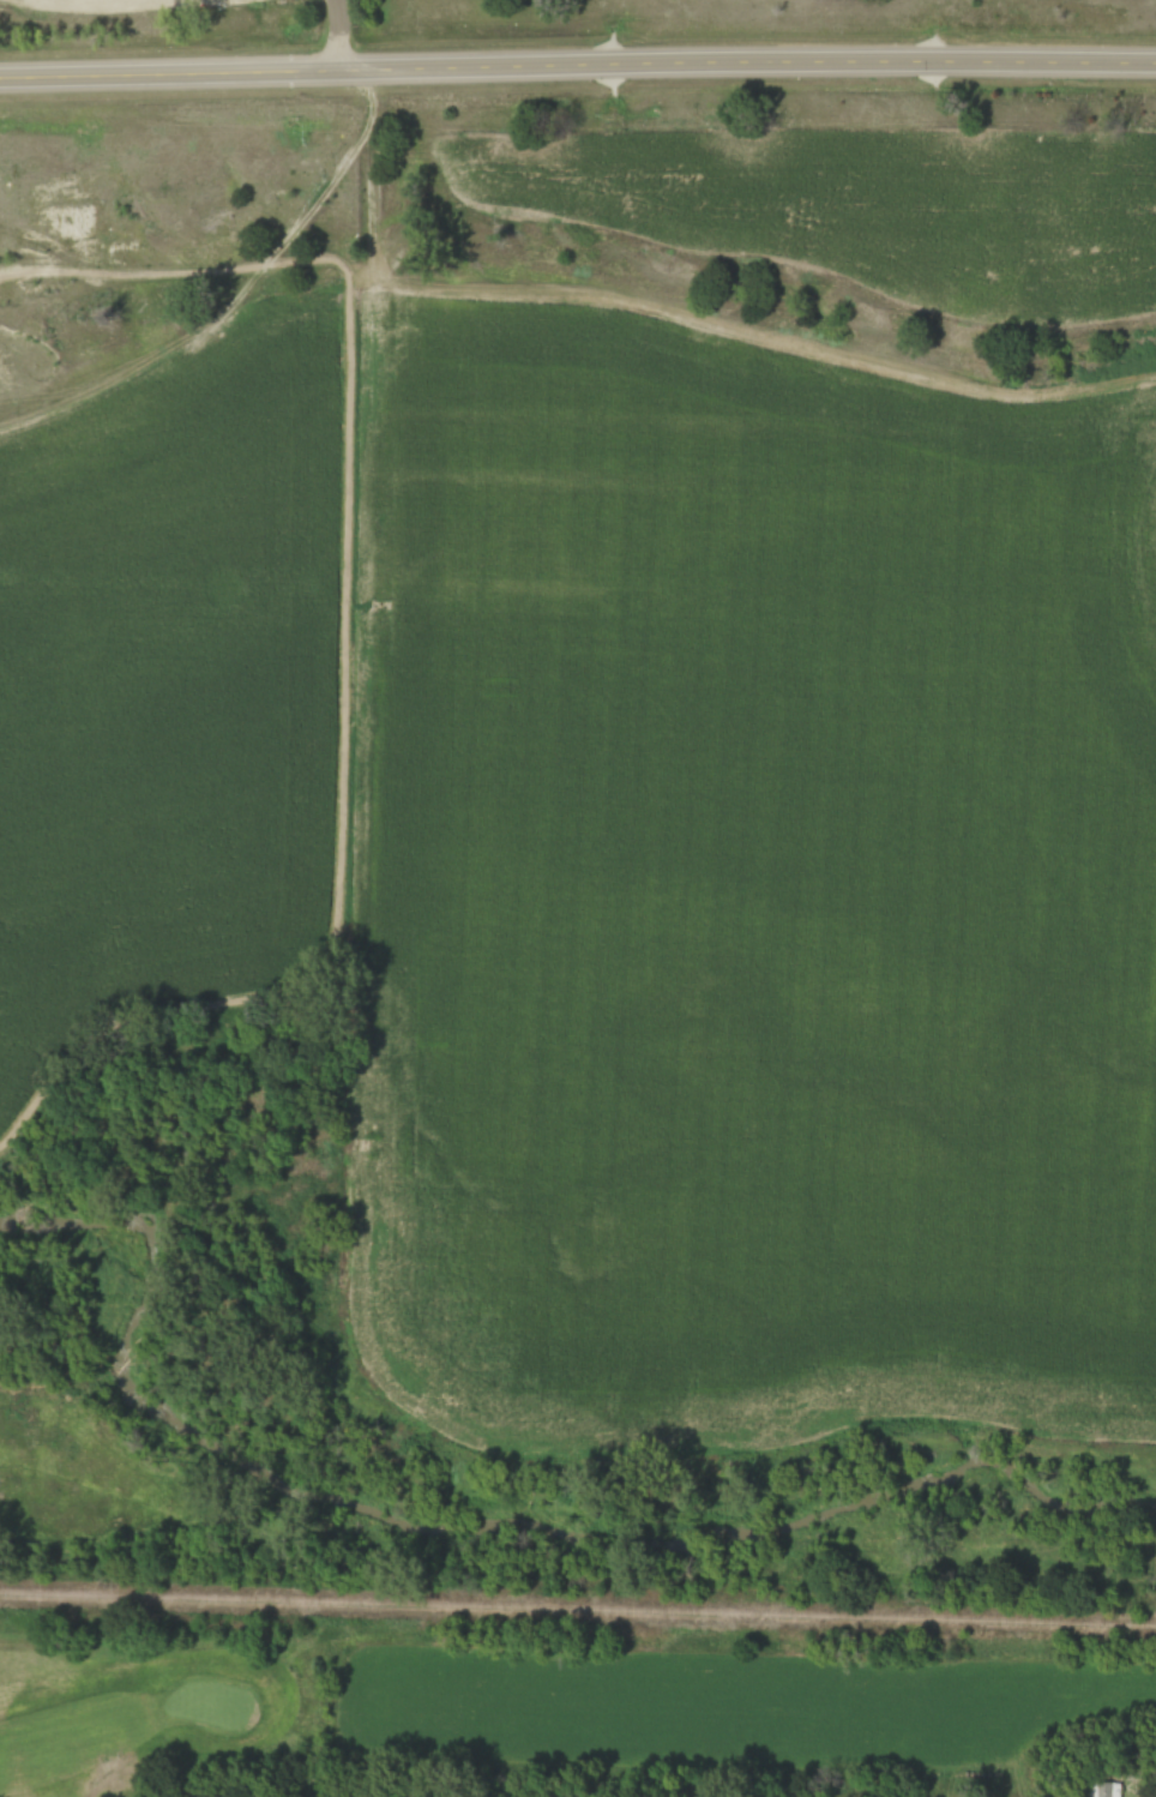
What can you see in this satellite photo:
road: (577, 62)
road: (354, 641)
crop: (163, 675)
crop: (766, 889)
railway: (578, 1594)
building: (1104, 1789)

